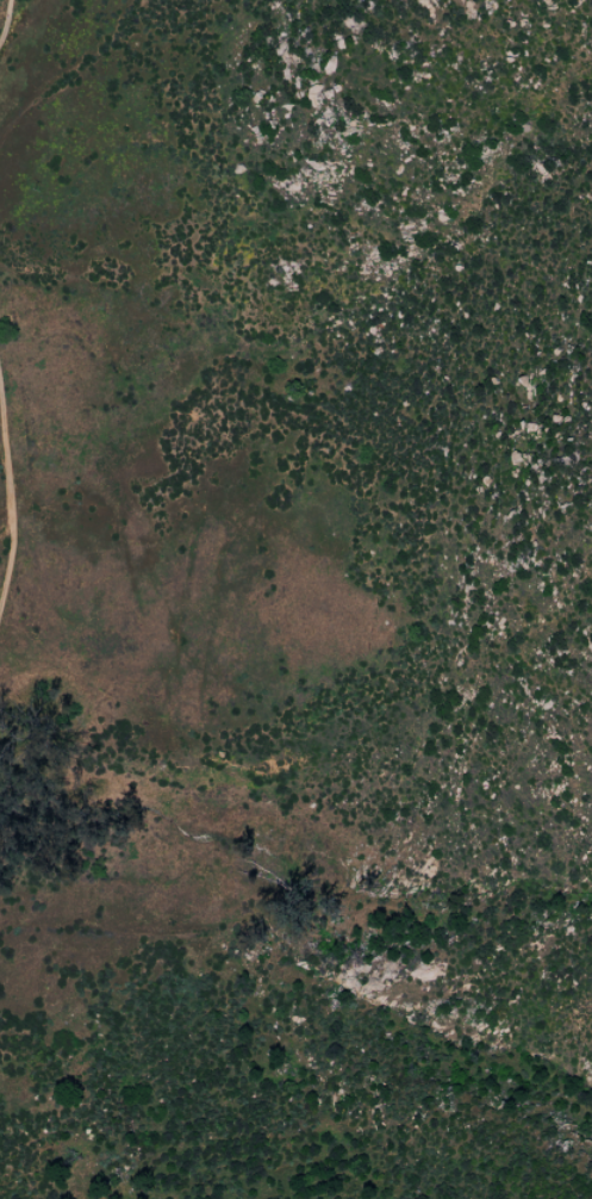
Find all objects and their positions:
road: (4, 17)
road: (7, 507)
park: (295, 599)

